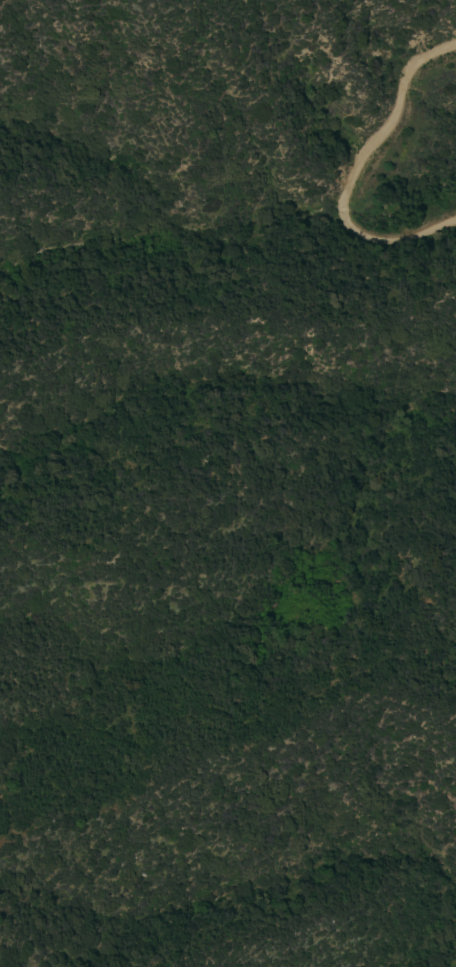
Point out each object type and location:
road: (354, 173)

